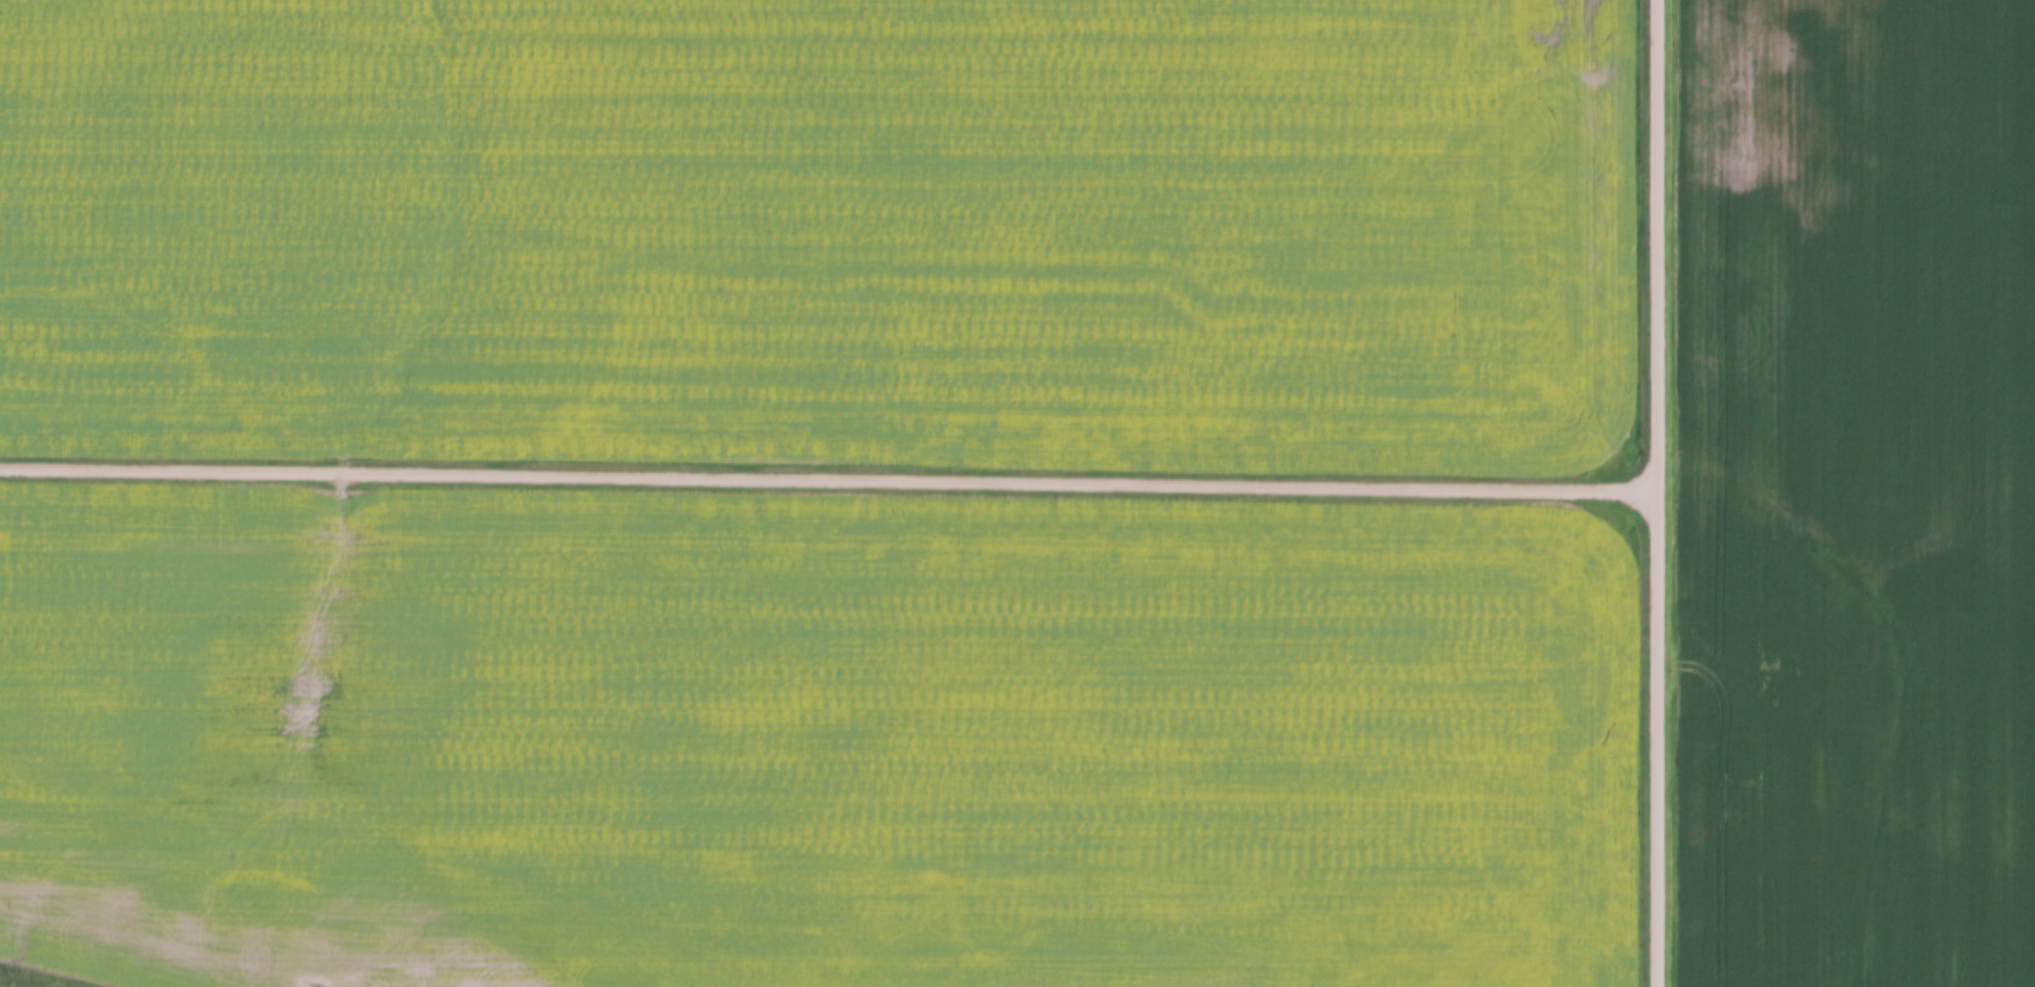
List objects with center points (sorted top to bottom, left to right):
road: (829, 481)
road: (1660, 493)

